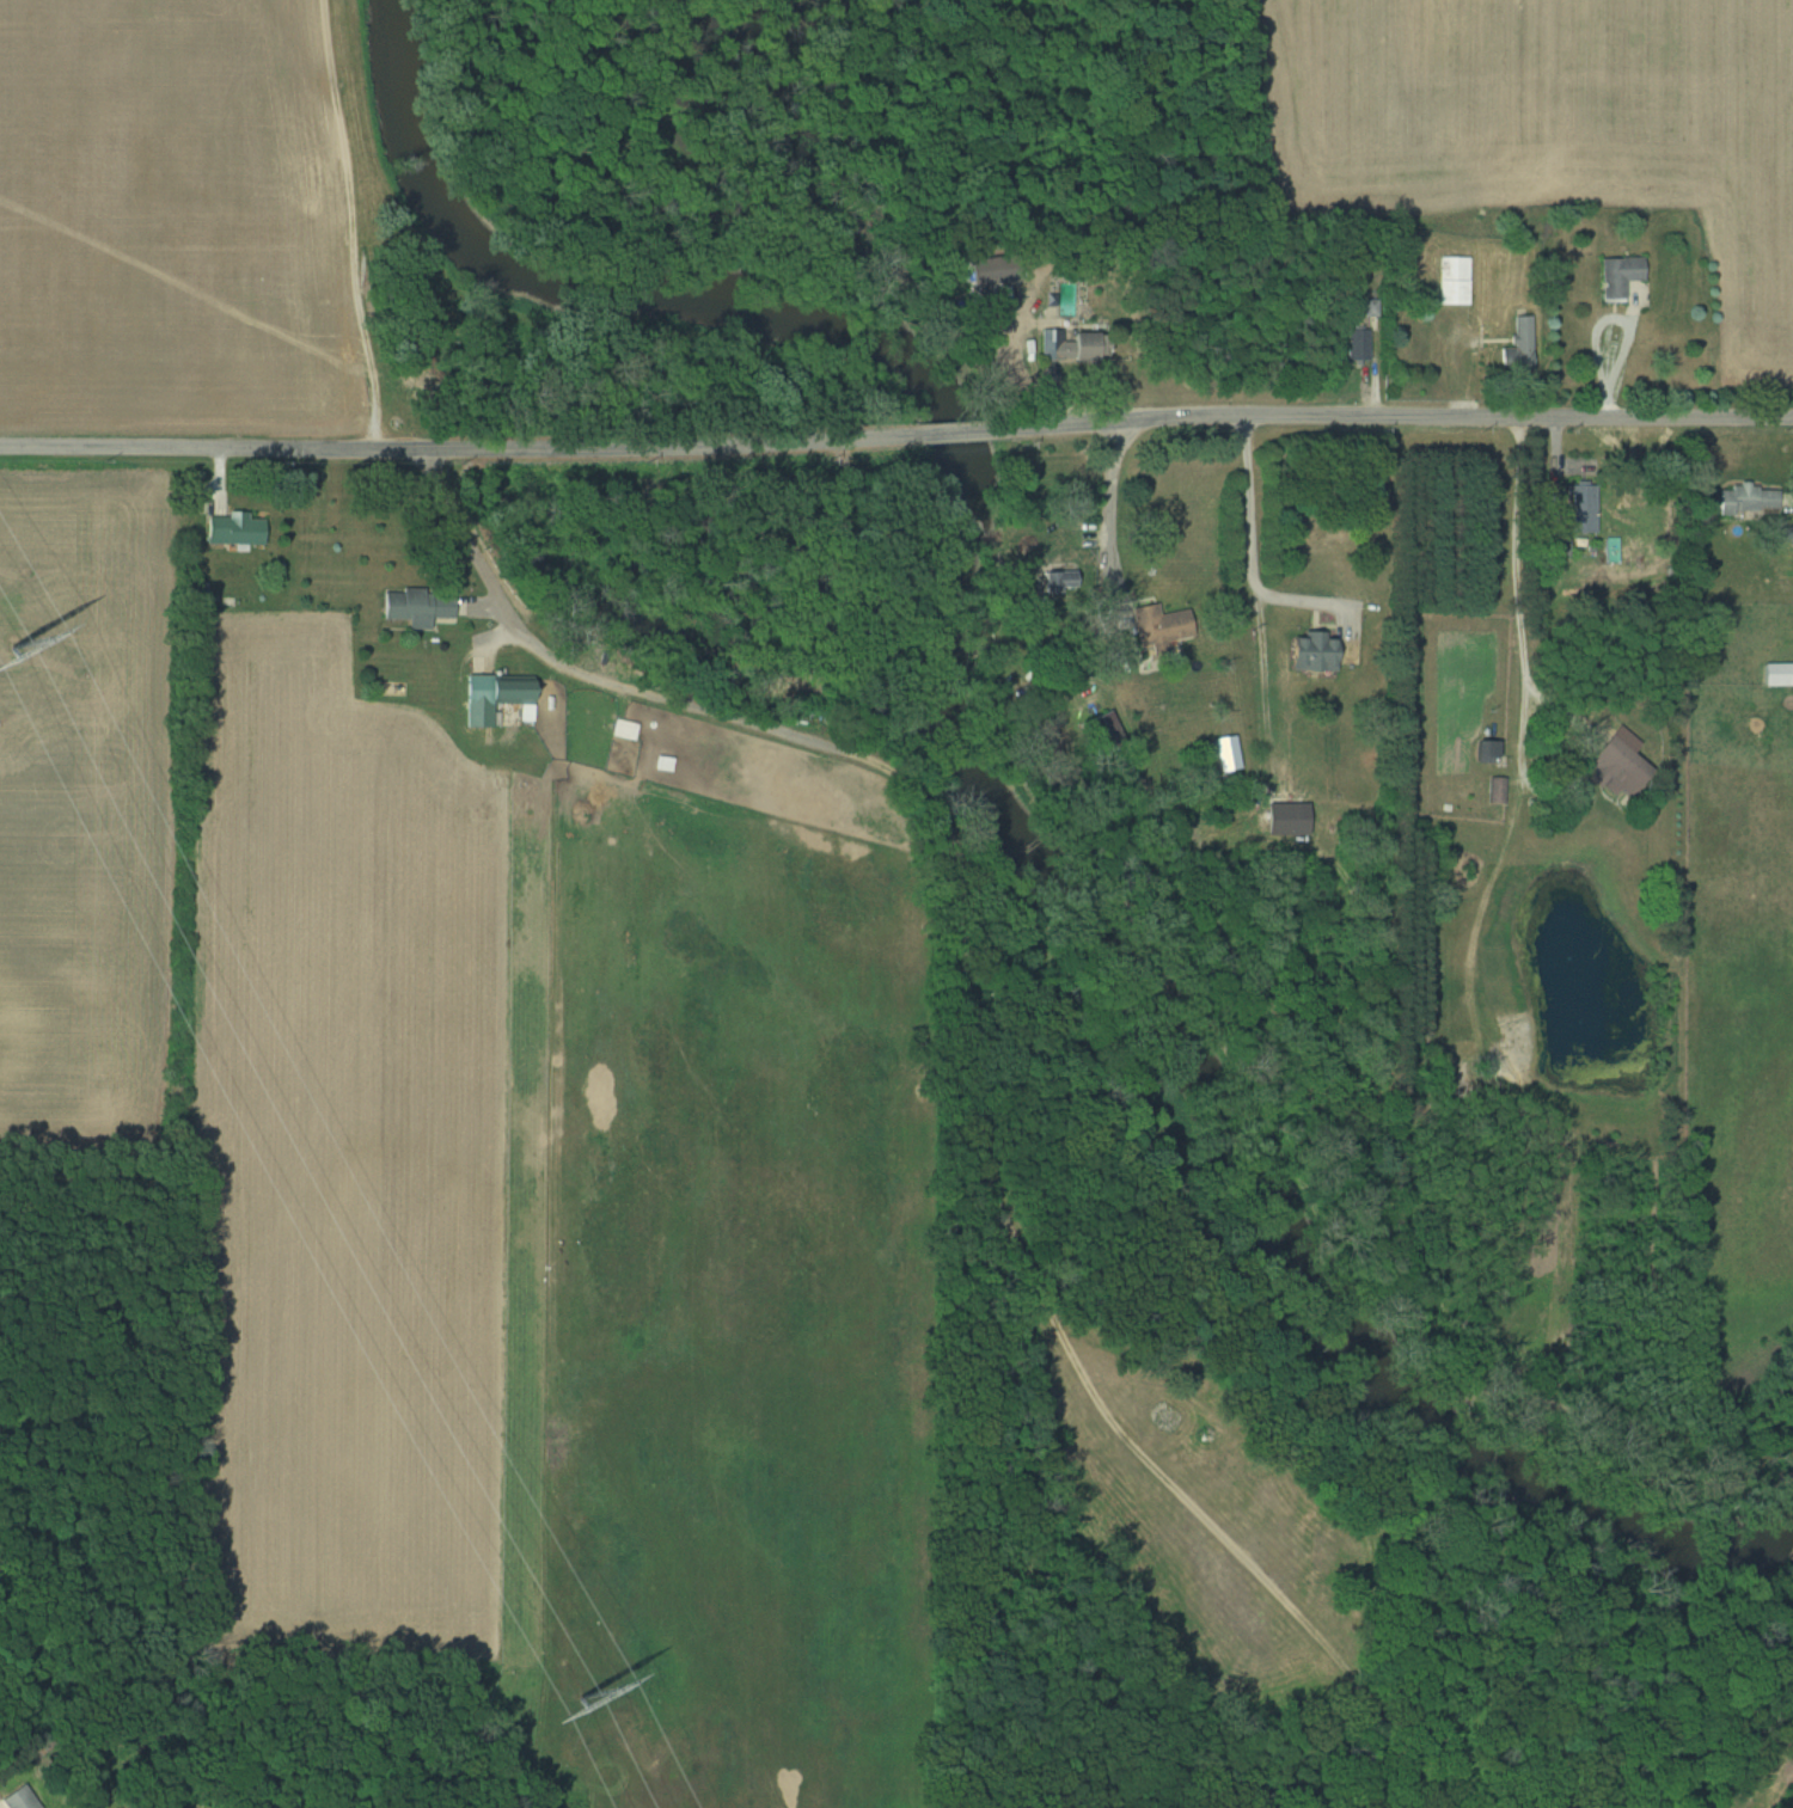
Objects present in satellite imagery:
building: (1616, 276)
building: (1452, 280)
building: (1357, 344)
building: (1518, 347)
road: (1391, 416)
road: (951, 434)
road: (455, 448)
building: (1746, 498)
road: (1112, 500)
building: (1583, 507)
building: (233, 528)
road: (1250, 543)
building: (1059, 581)
road: (1522, 588)
building: (414, 607)
building: (1159, 625)
power tower: (11, 646)
building: (1310, 650)
building: (1777, 673)
building: (496, 690)
building: (623, 729)
building: (1104, 731)
building: (1486, 750)
building: (1613, 767)
river: (992, 779)
building: (1495, 790)
road: (967, 1040)
power tower: (579, 1697)
building: (22, 1798)

